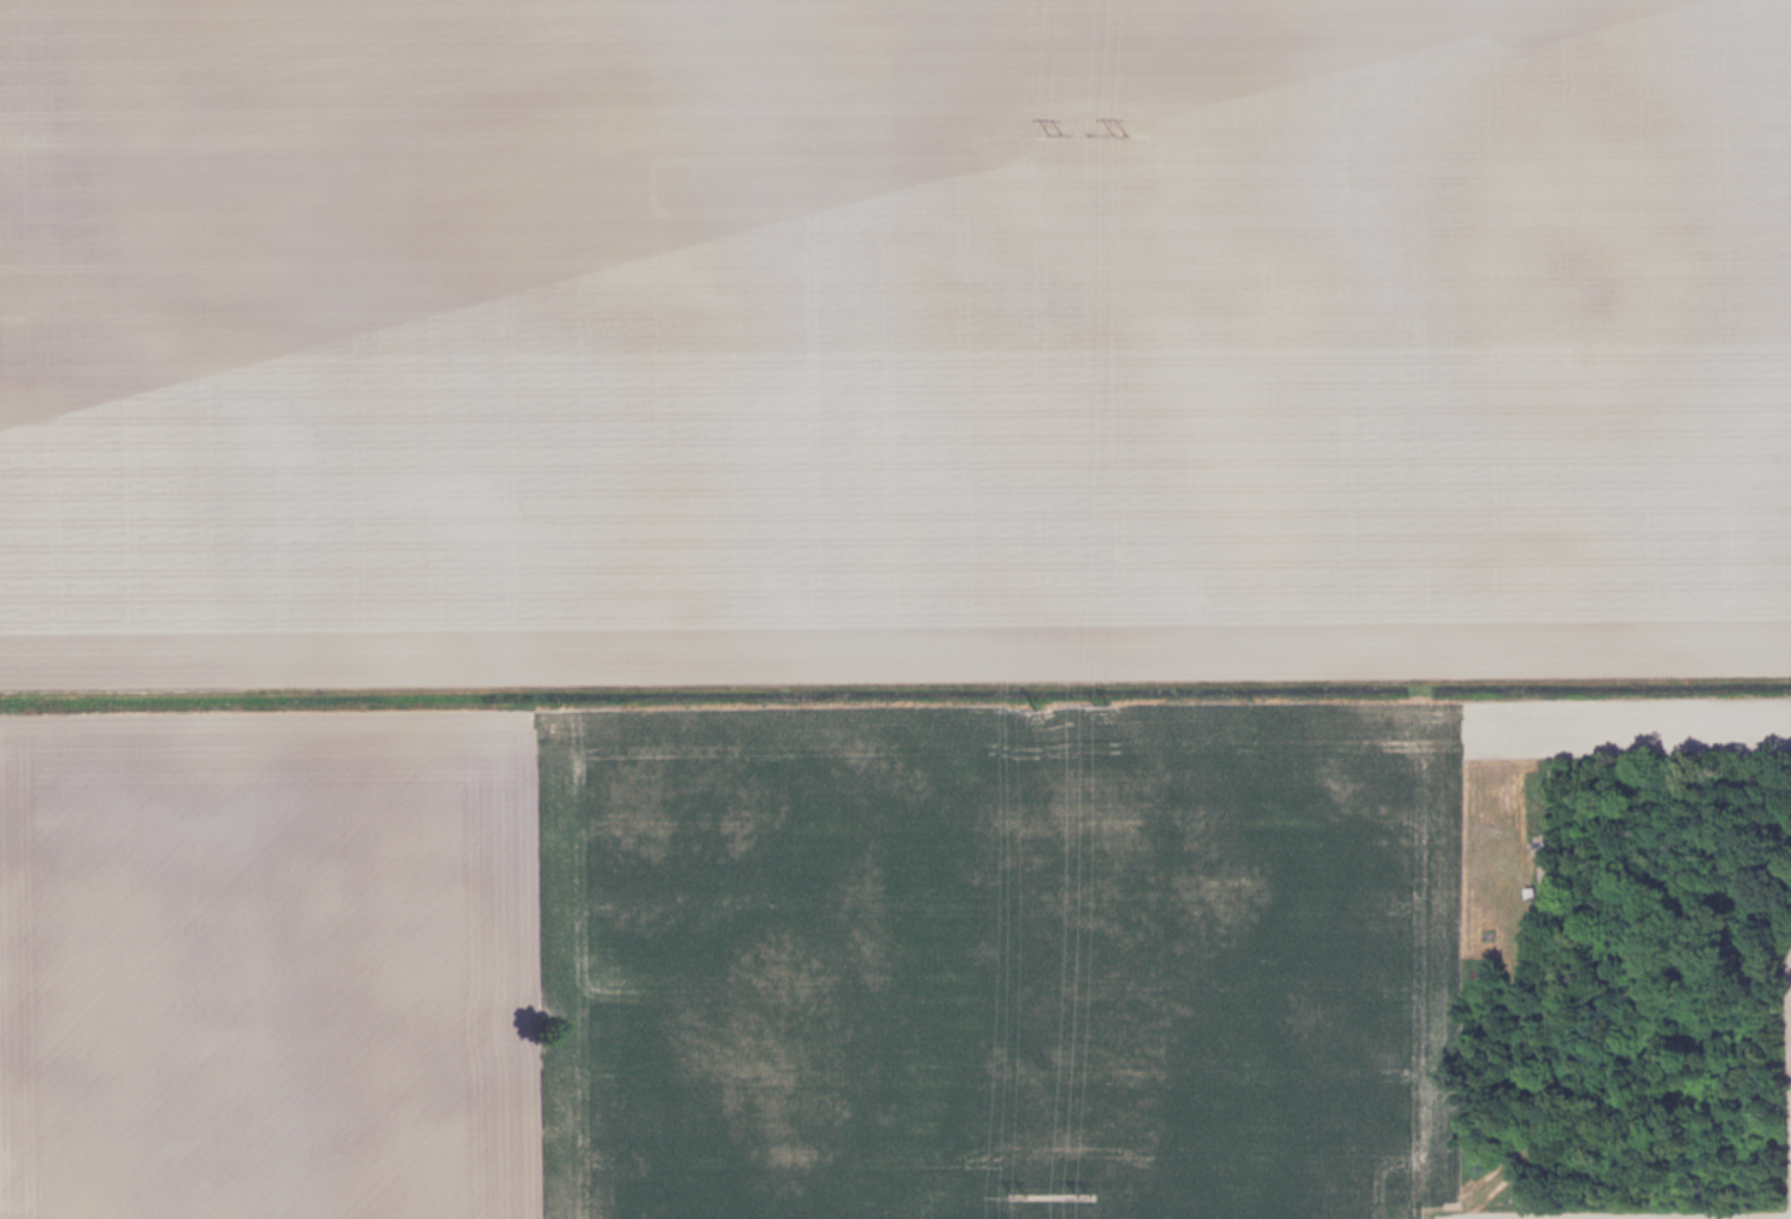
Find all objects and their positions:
power tower: (1051, 131)
power tower: (1118, 134)
power tower: (1032, 700)
power tower: (1100, 700)
power tower: (1084, 1192)
power tower: (1019, 1194)

